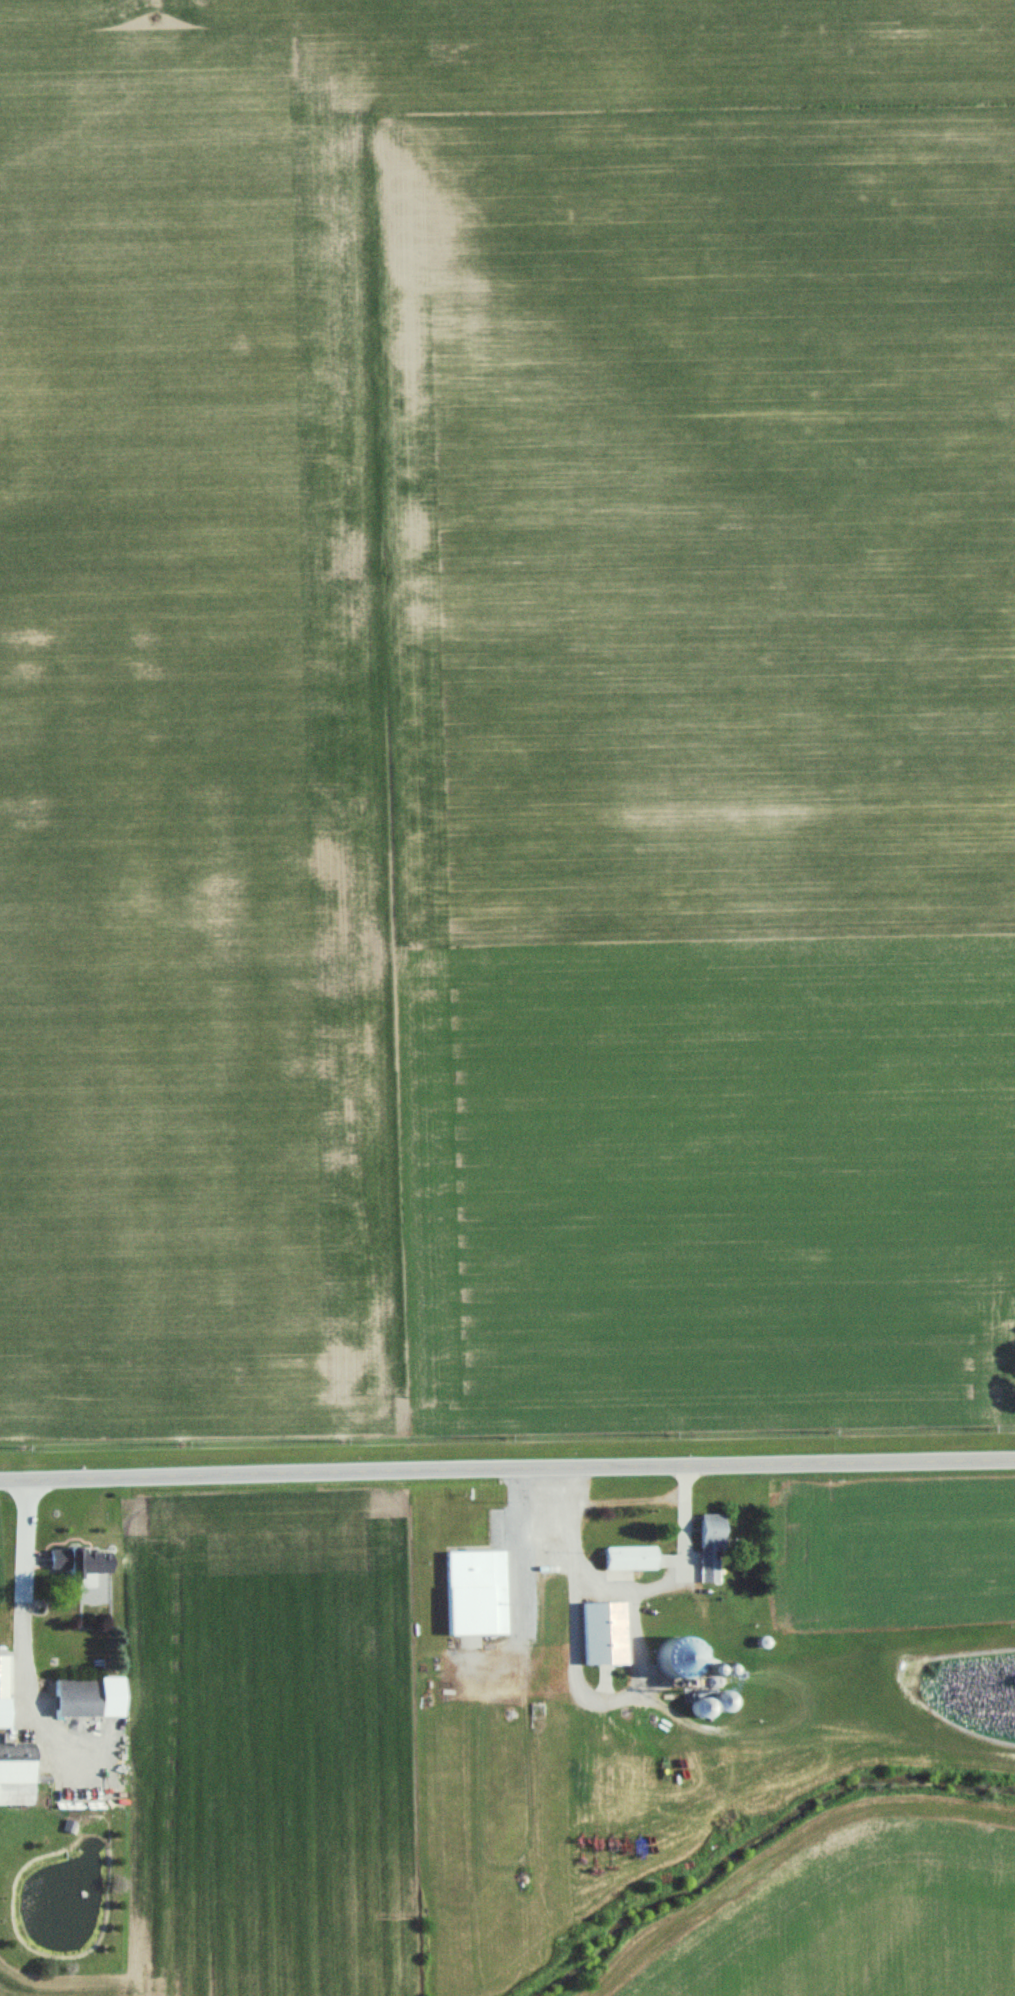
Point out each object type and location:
crop: (505, 710)
road: (507, 1470)
building: (707, 1547)
building: (627, 1559)
building: (74, 1563)
building: (84, 1582)
road: (23, 1589)
road: (625, 1592)
building: (473, 1593)
building: (600, 1635)
building: (2, 1693)
building: (88, 1701)
crop: (265, 1754)
building: (15, 1776)
crop: (864, 1918)

